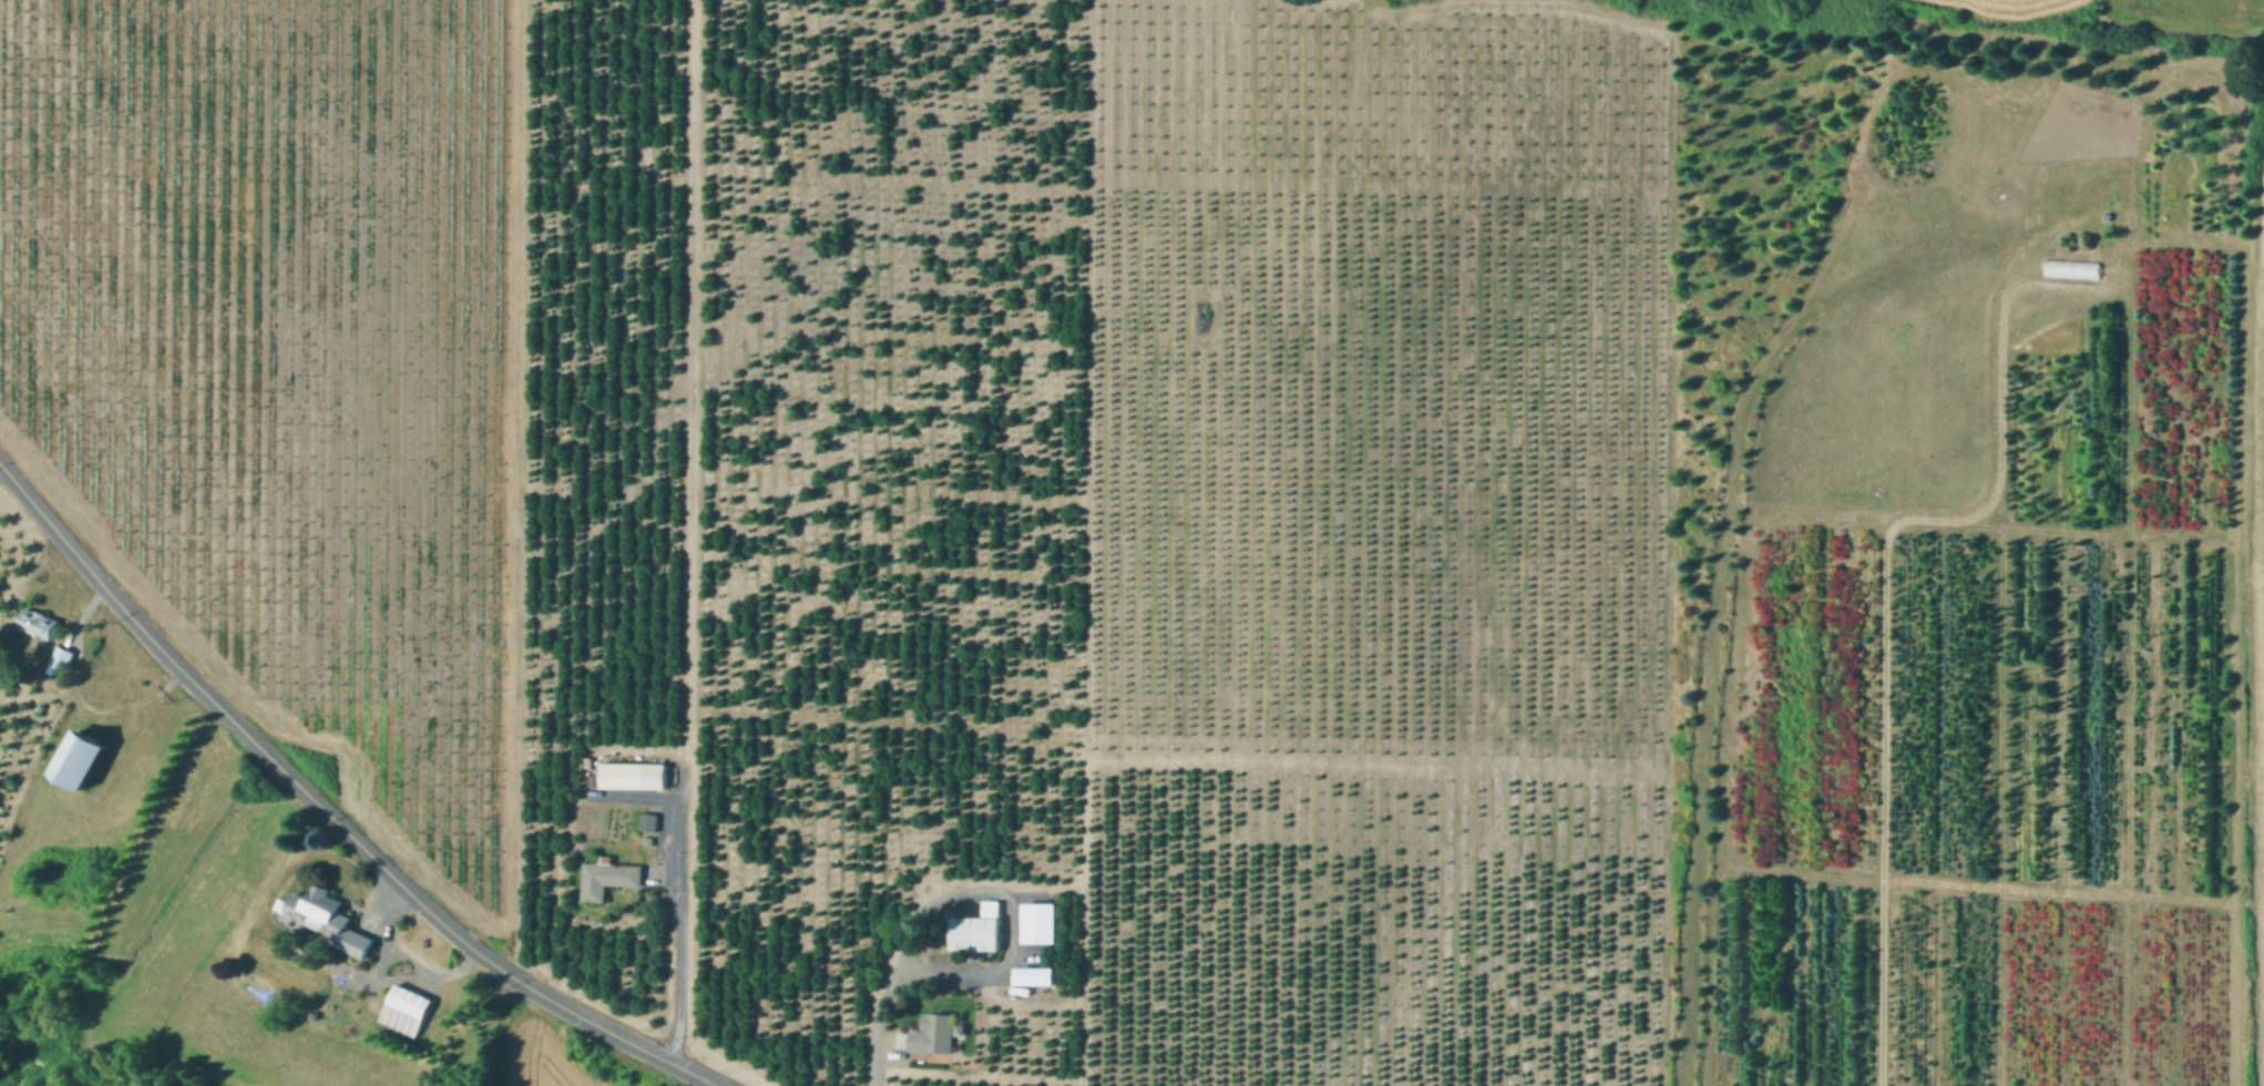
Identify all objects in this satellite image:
crop: (1995, 4)
crop: (1985, 189)
crop: (2046, 298)
crop: (290, 371)
crop: (1893, 408)
building: (42, 624)
building: (64, 658)
building: (82, 759)
building: (635, 776)
road: (328, 813)
building: (650, 822)
building: (607, 877)
building: (993, 909)
building: (329, 919)
building: (1042, 928)
road: (682, 930)
building: (977, 933)
building: (1034, 974)
road: (885, 988)
building: (409, 1011)
building: (934, 1034)

